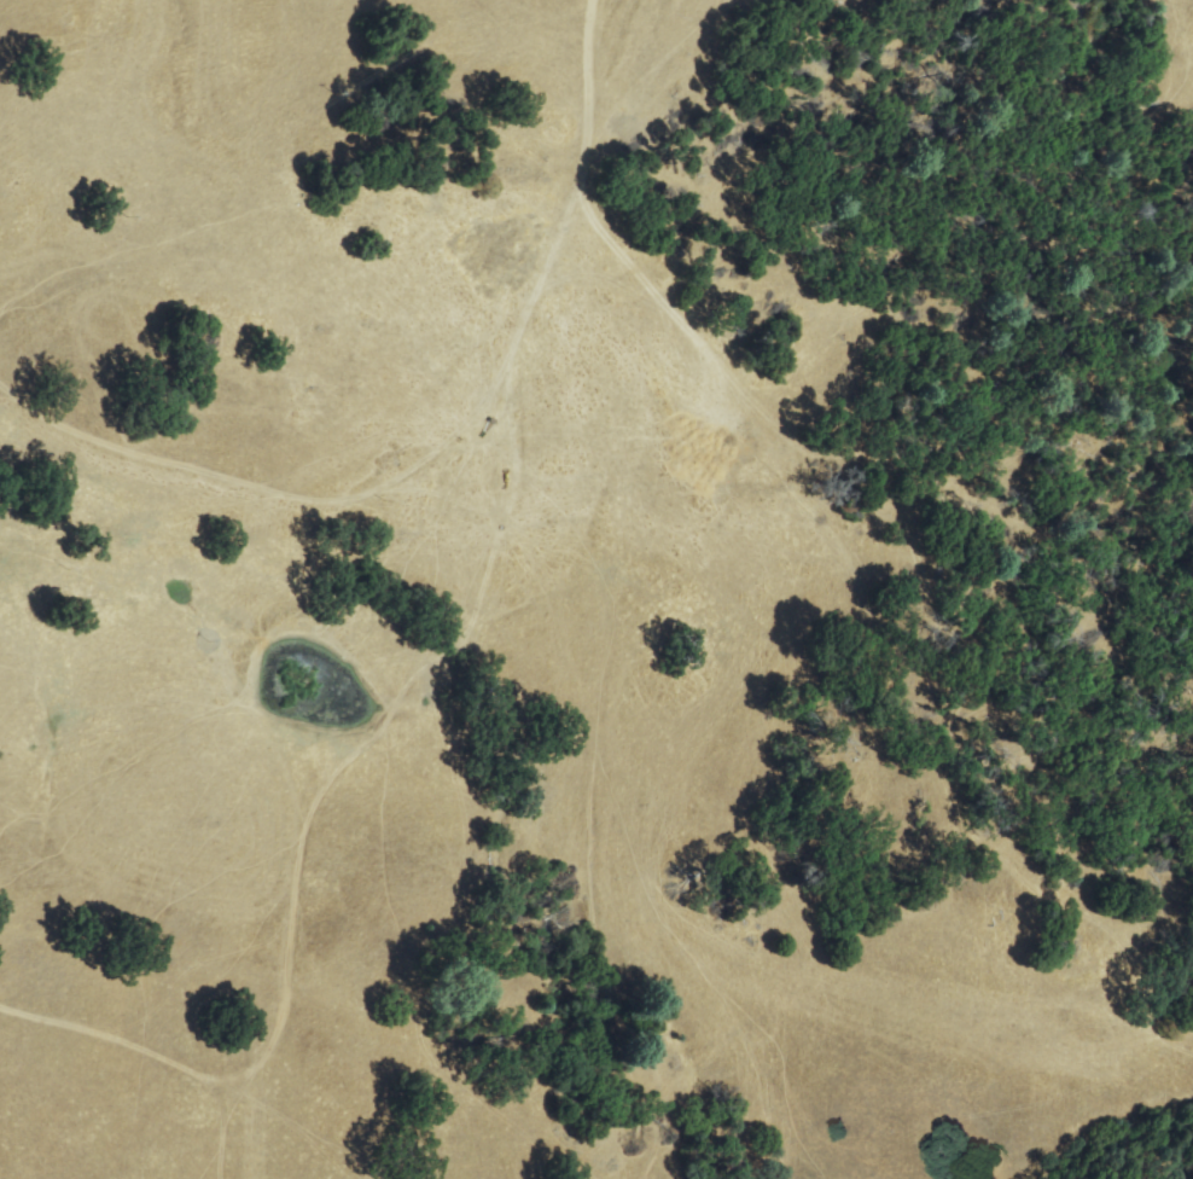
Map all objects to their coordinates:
road: (650, 69)
road: (458, 464)

